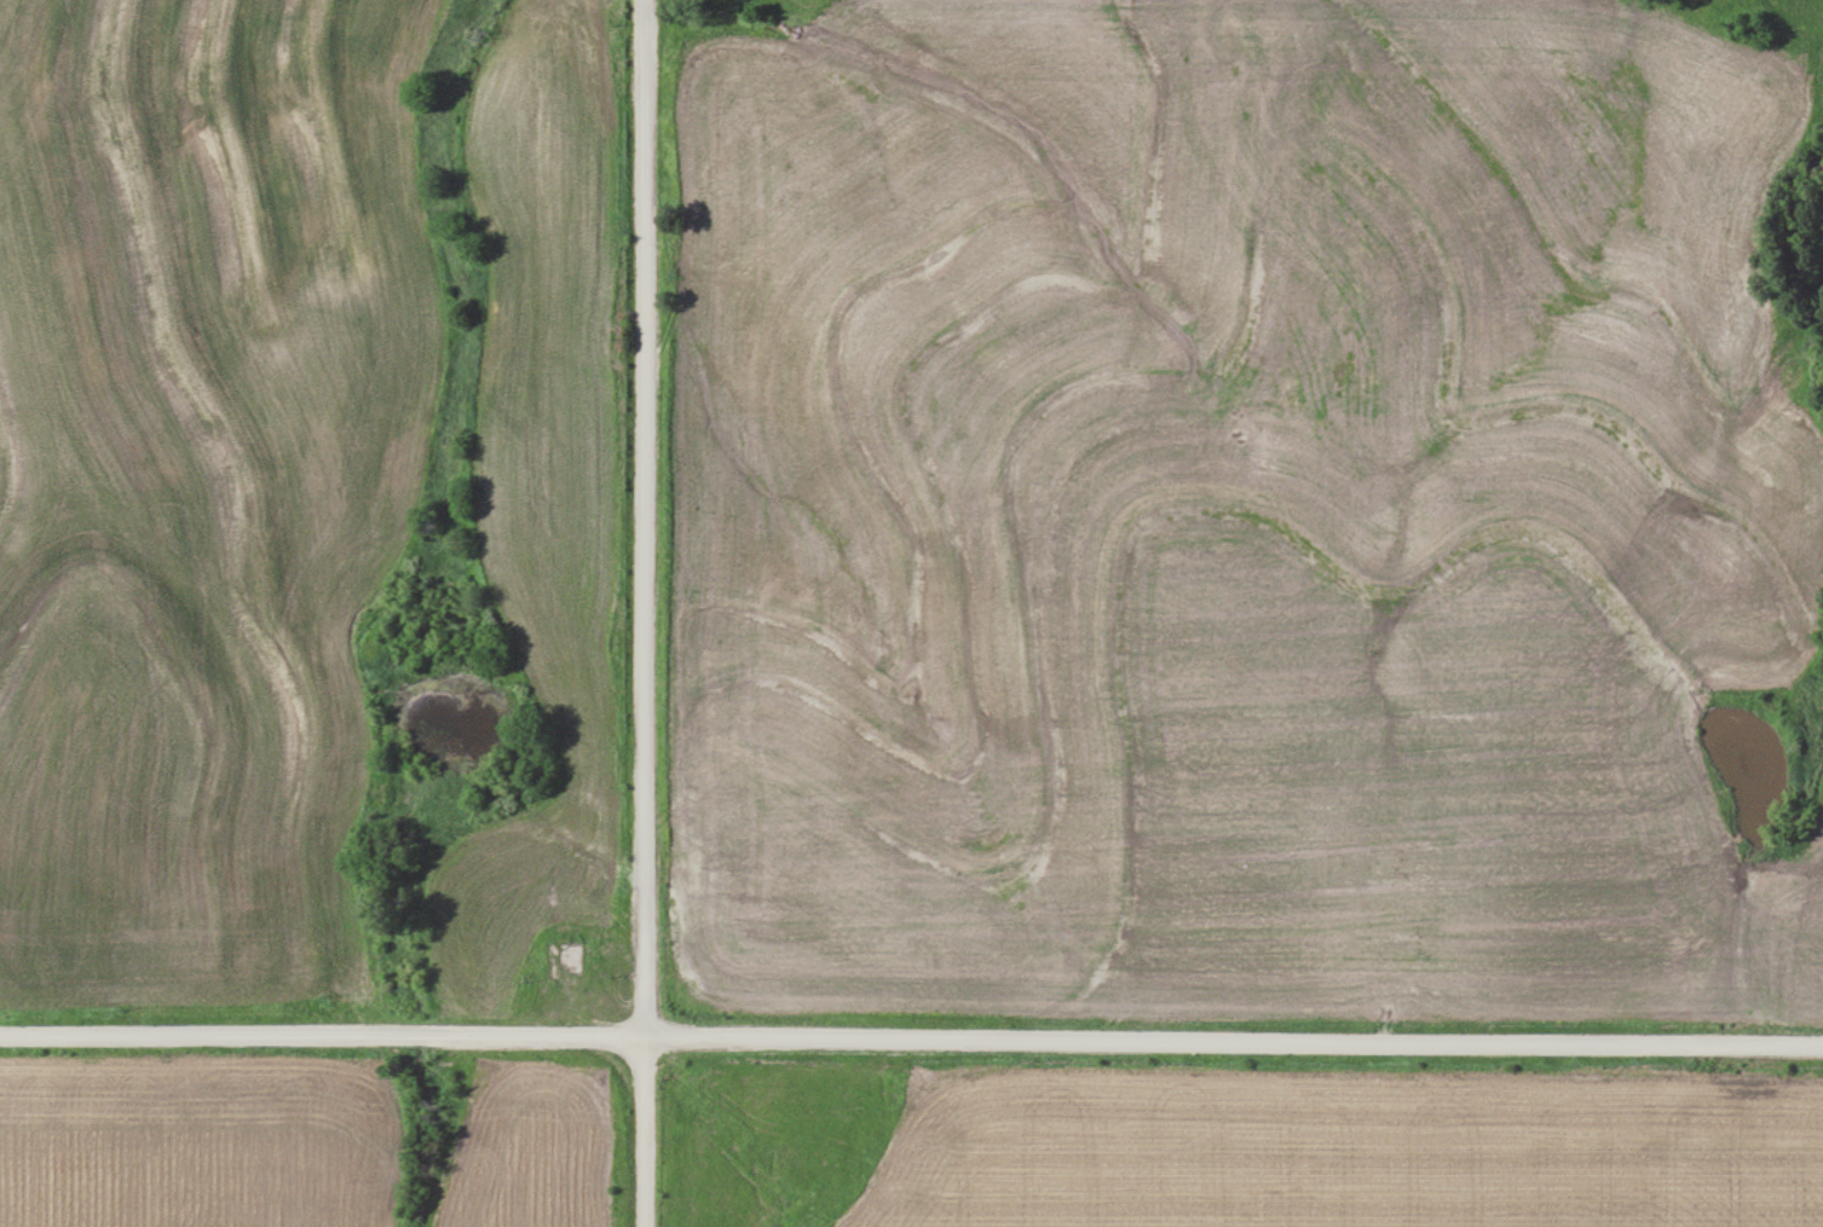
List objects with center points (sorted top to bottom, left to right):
road: (640, 613)
road: (911, 1041)

